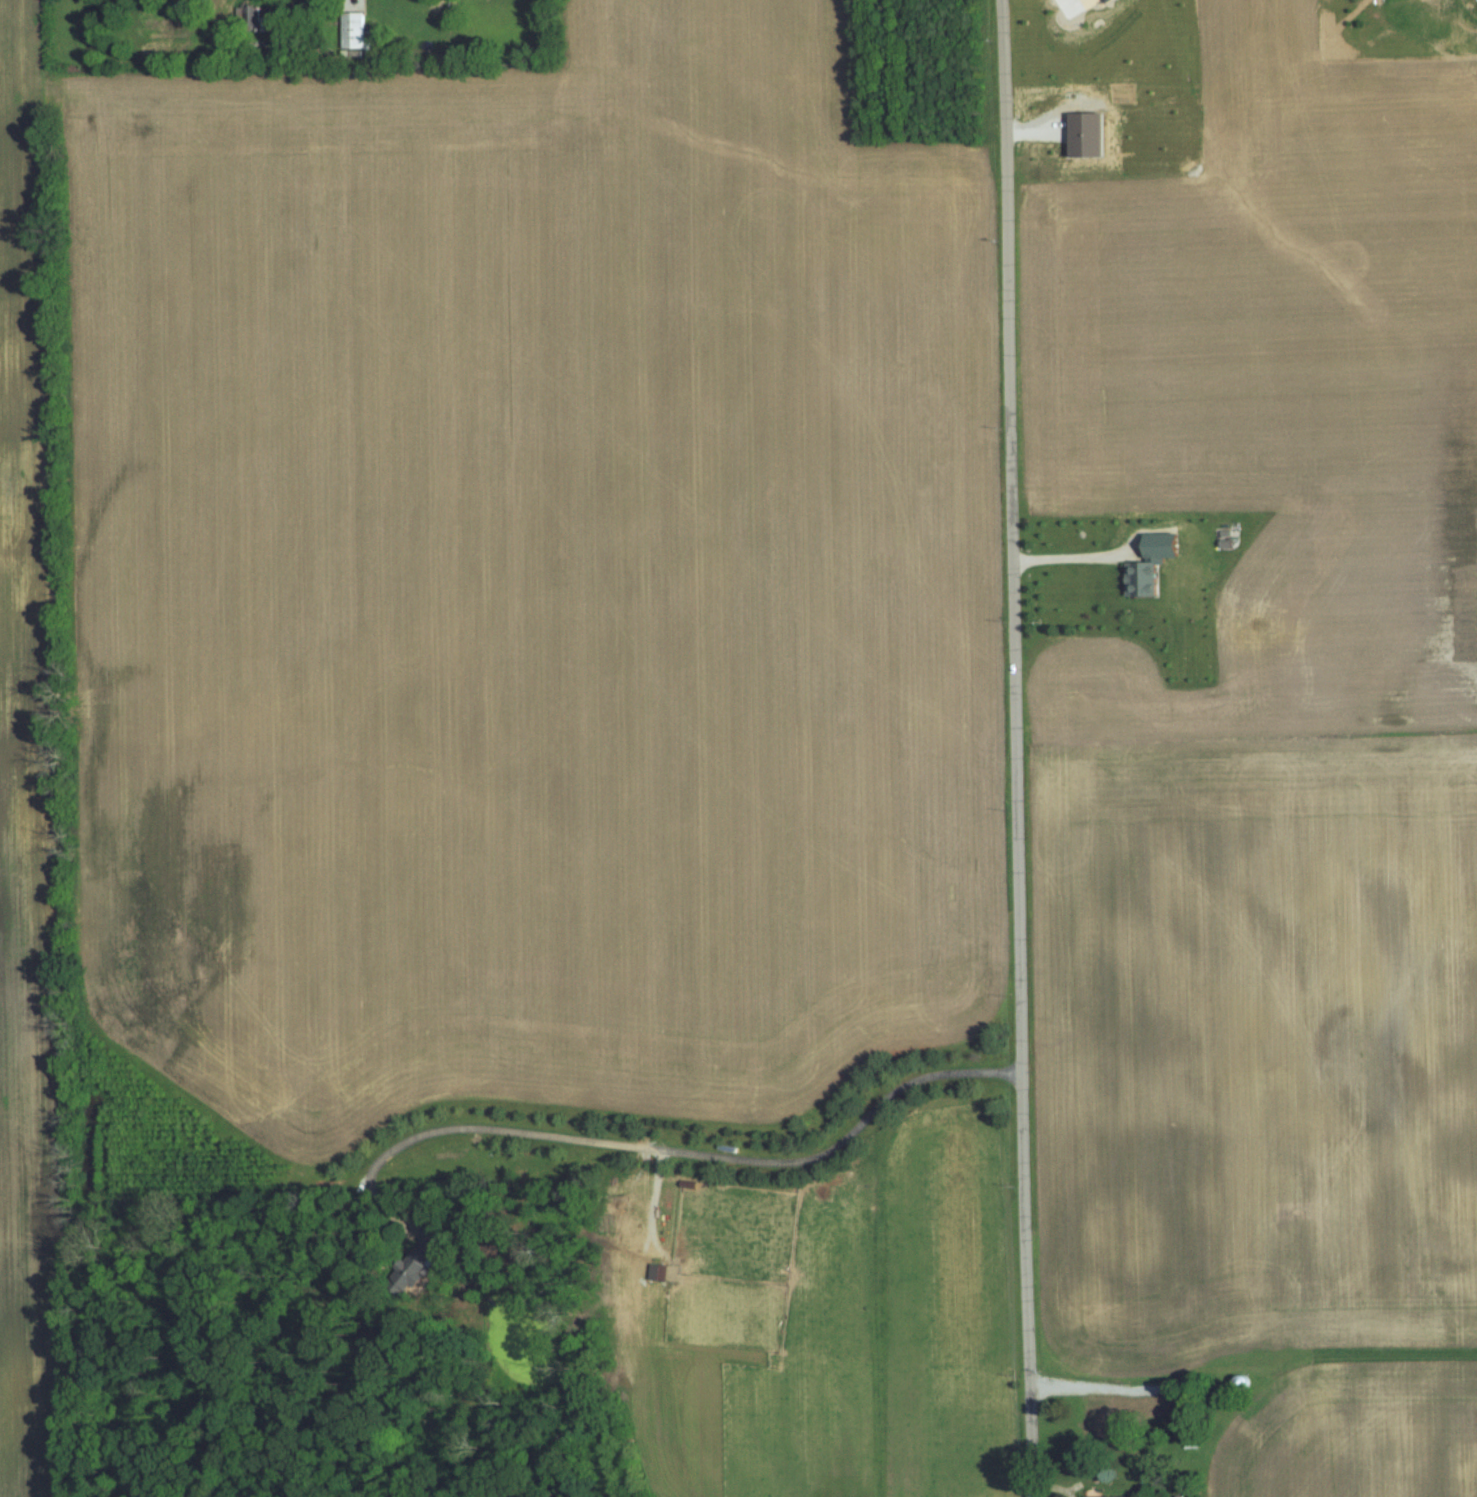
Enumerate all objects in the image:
building: (1076, 5)
building: (259, 16)
building: (354, 30)
building: (1092, 135)
road: (1064, 556)
building: (1153, 569)
road: (1015, 748)
road: (682, 1154)
road: (1100, 1390)
building: (1139, 1496)

